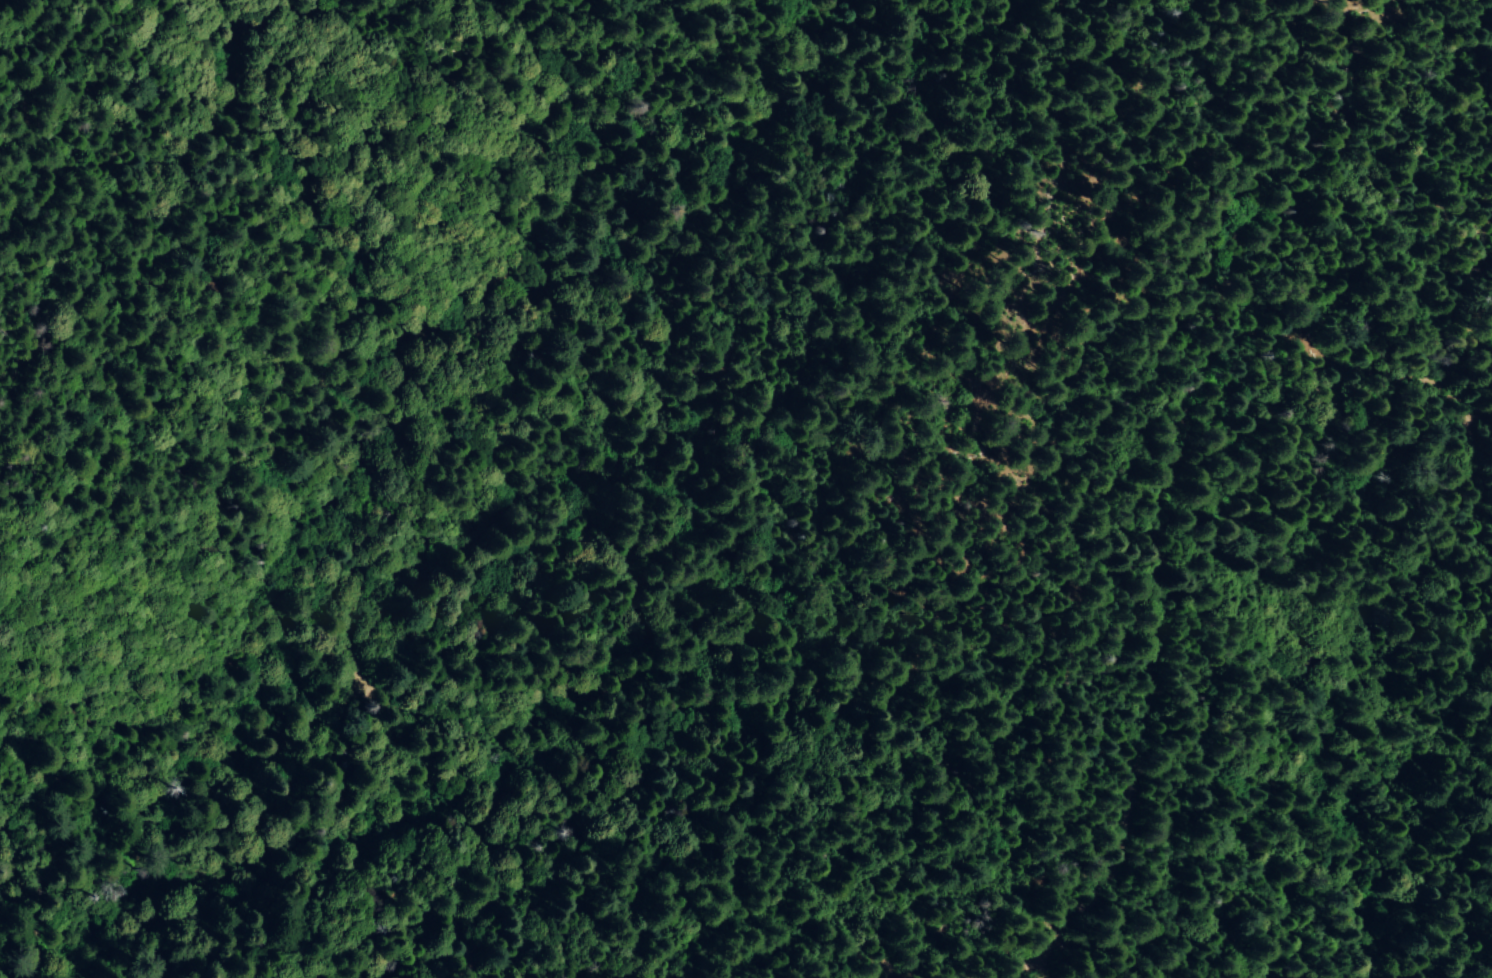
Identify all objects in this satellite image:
road: (1173, 428)
road: (360, 582)

